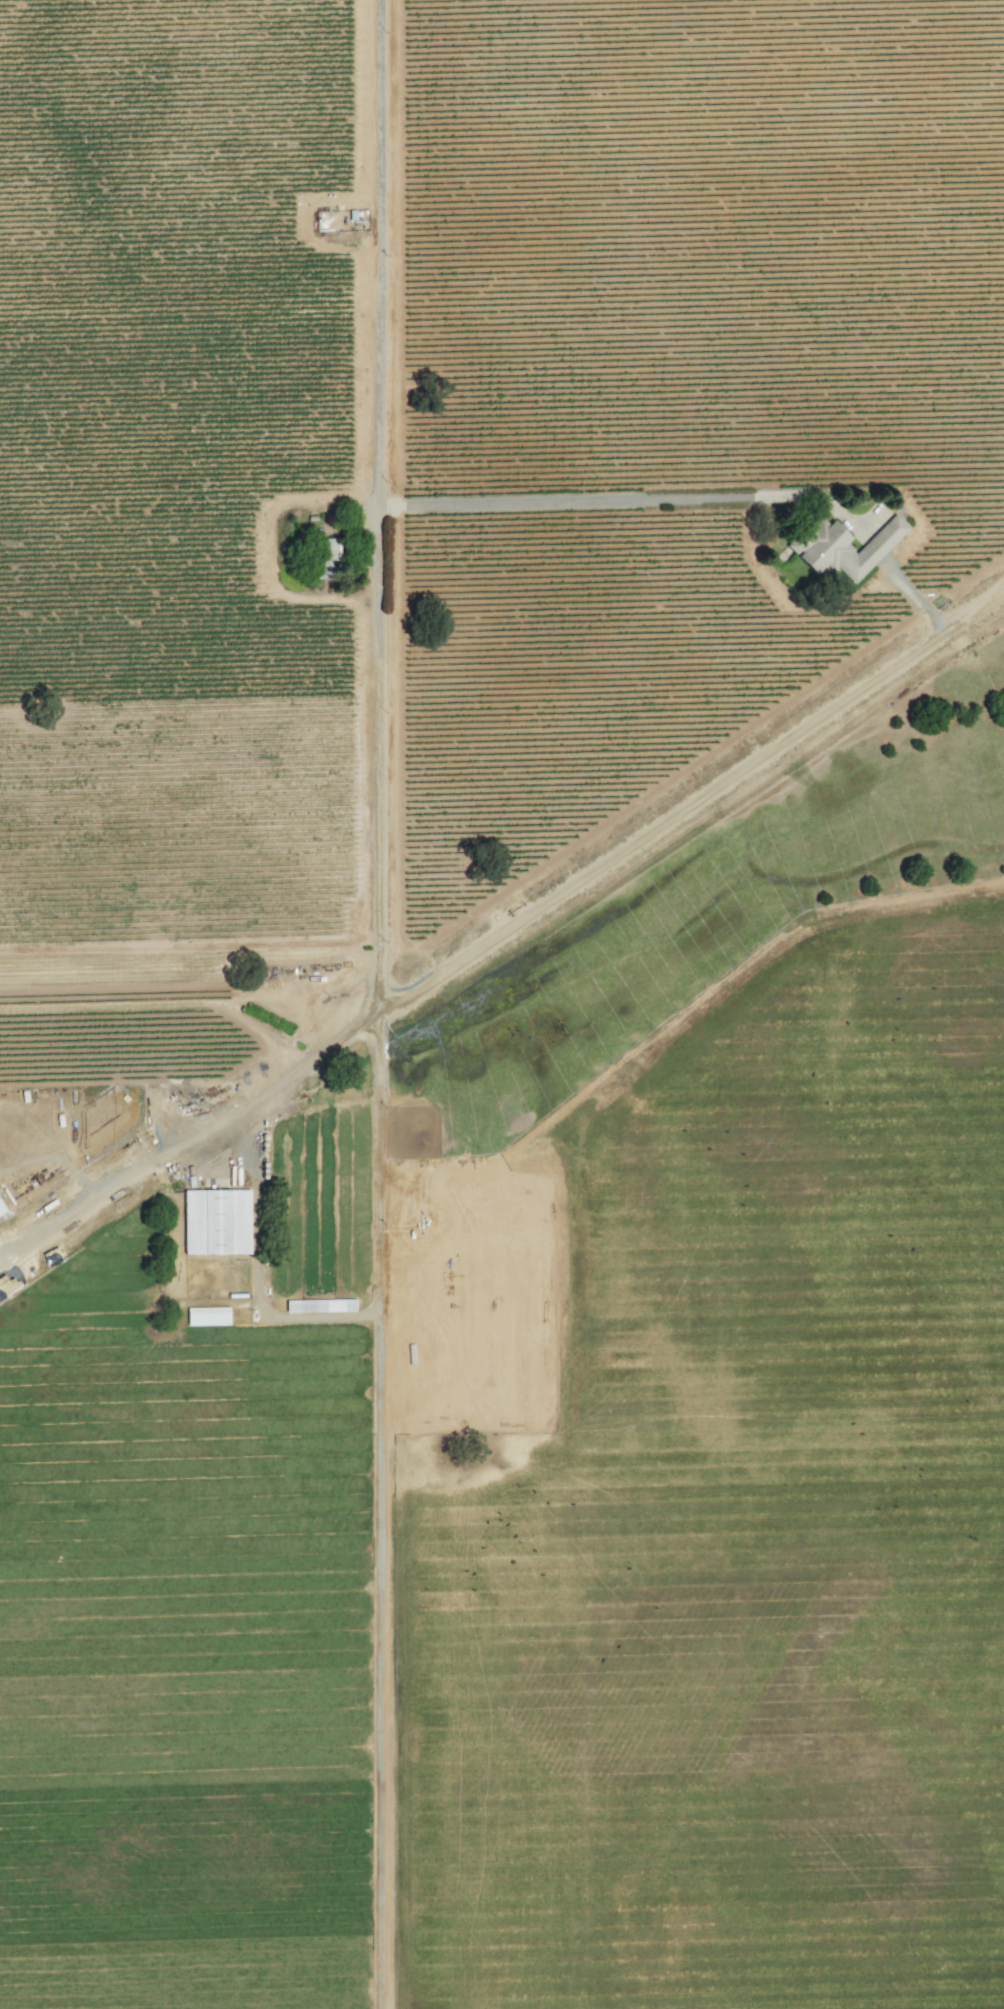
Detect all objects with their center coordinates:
road: (606, 497)
road: (379, 506)
road: (916, 599)
road: (504, 930)
building: (2, 1211)
building: (216, 1221)
building: (315, 1305)
building: (207, 1316)

